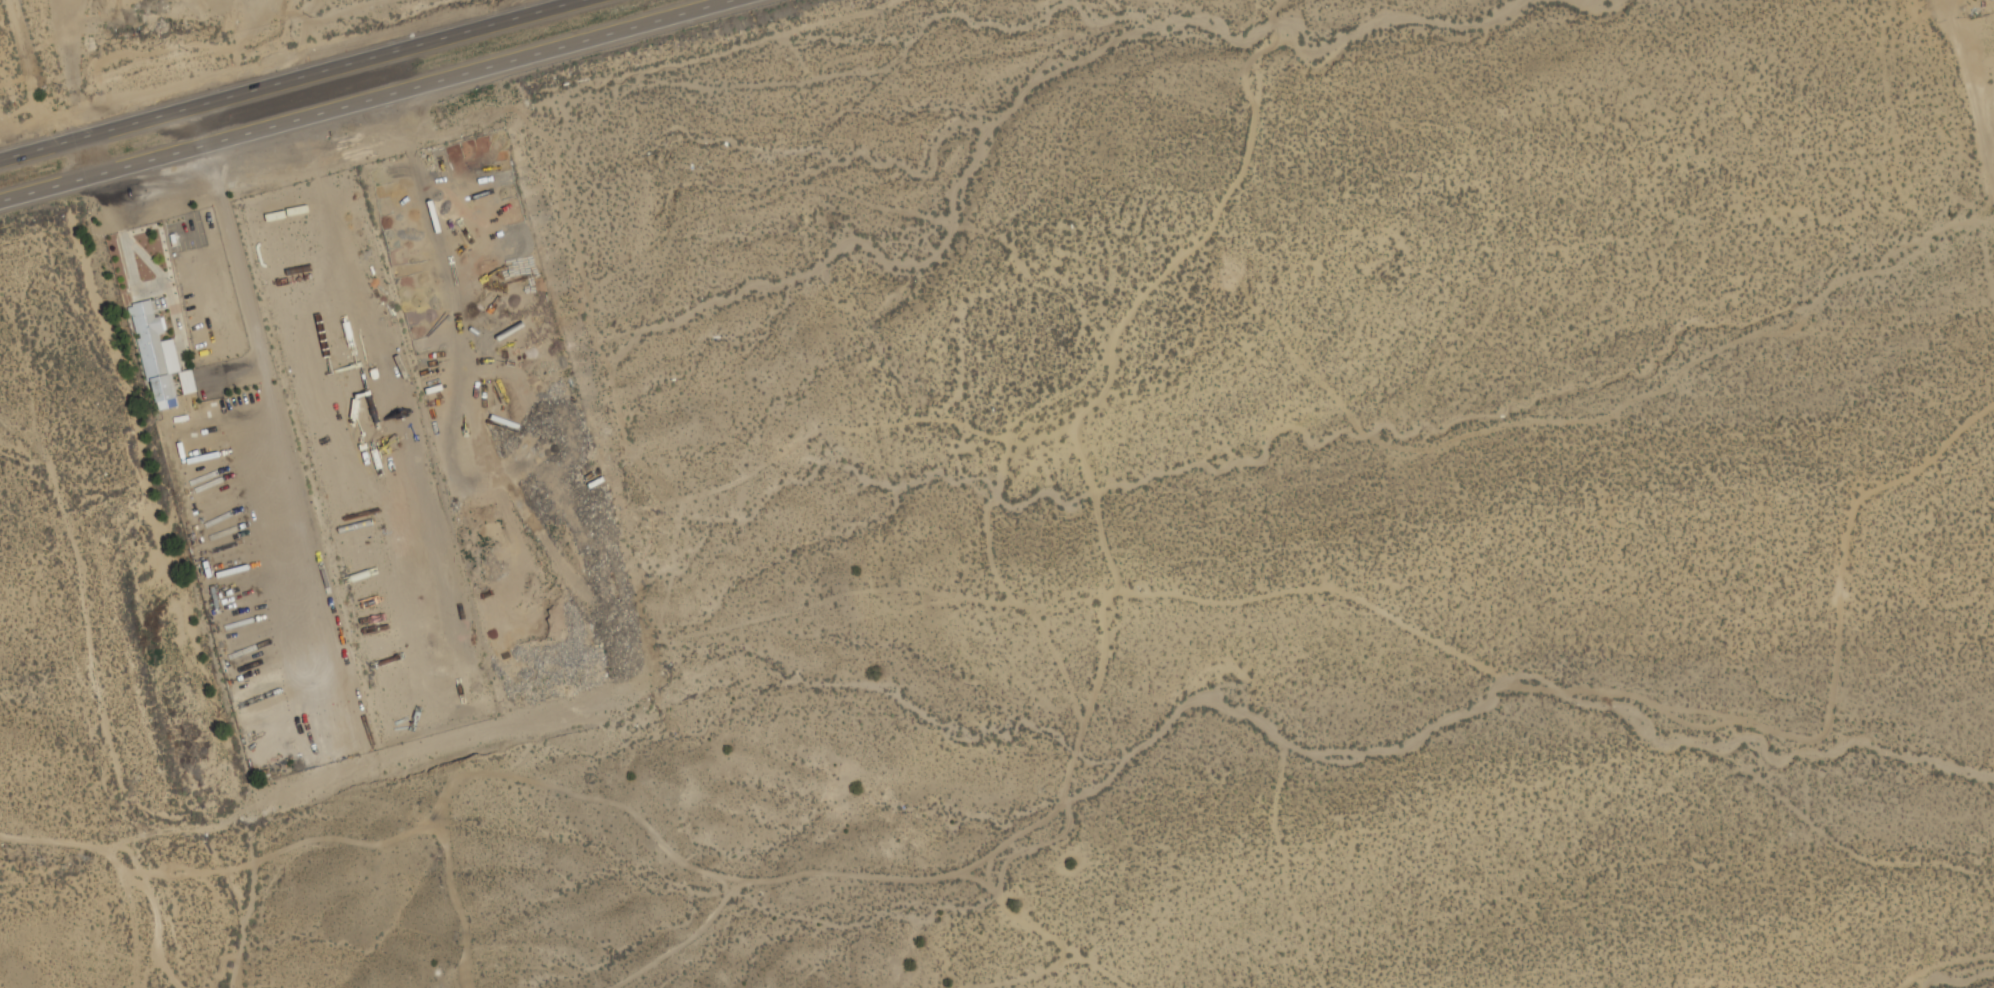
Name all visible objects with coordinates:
road: (1979, 63)
road: (294, 80)
road: (368, 100)
building: (149, 352)
building: (169, 355)
building: (184, 384)

